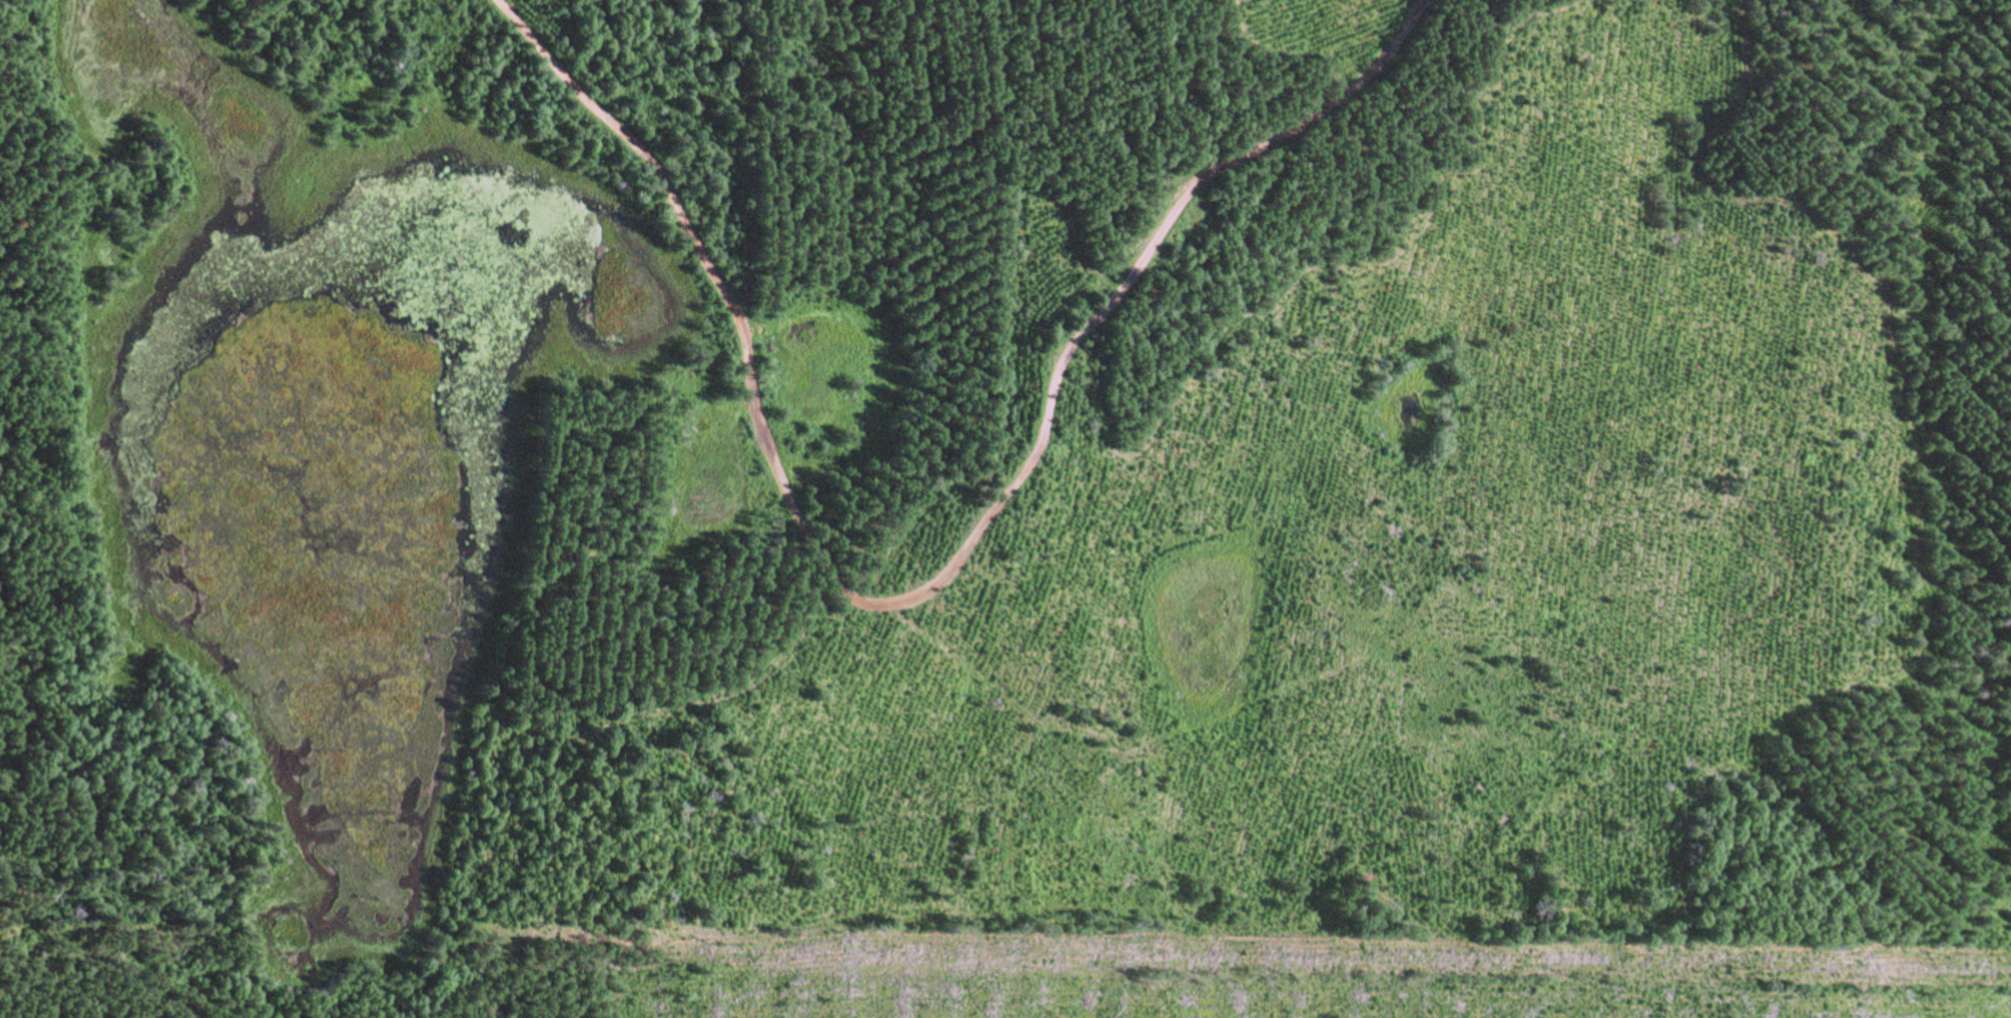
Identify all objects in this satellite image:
road: (682, 201)
road: (76, 999)
road: (1246, 999)

